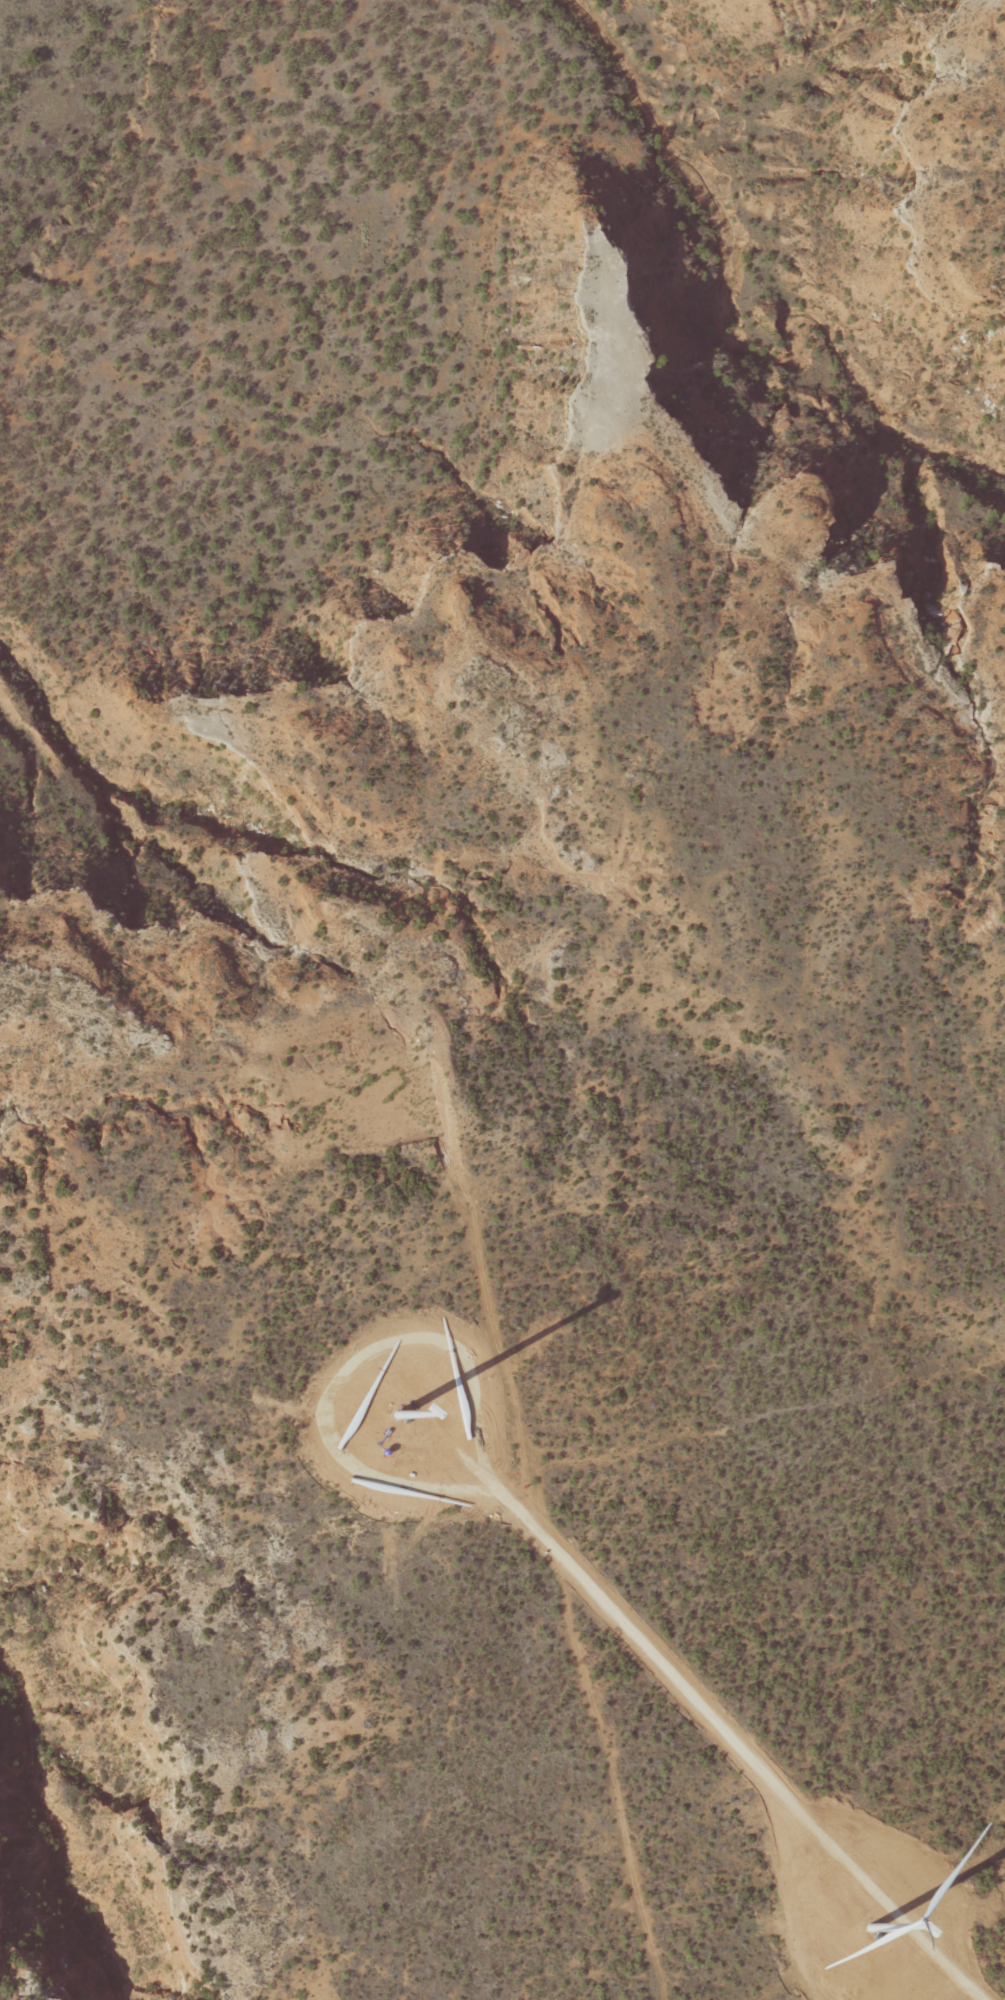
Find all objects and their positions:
wind turbine: (391, 1415)
wind turbine: (867, 1920)

